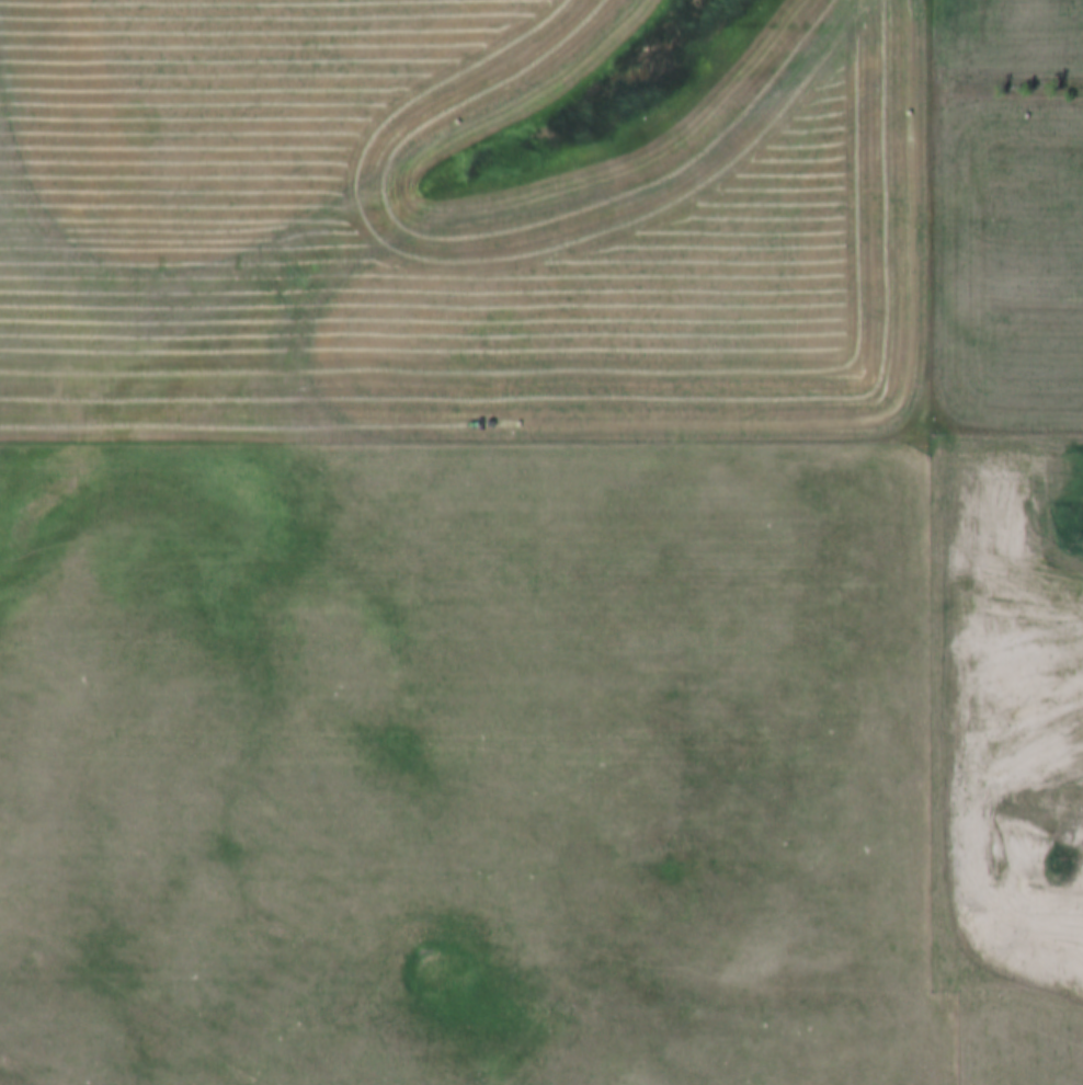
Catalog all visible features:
road: (954, 1035)

